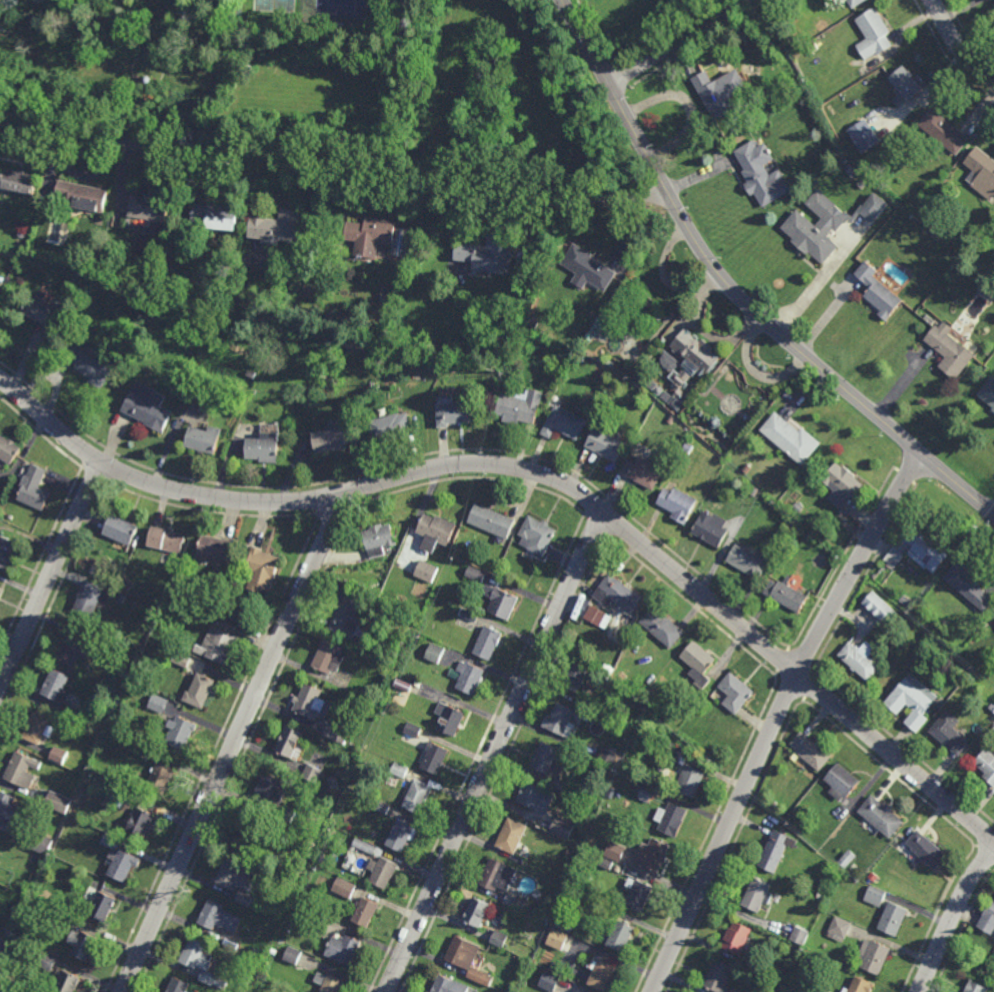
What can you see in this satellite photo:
building: (989, 0)
building: (858, 3)
building: (3, 23)
building: (874, 34)
road: (965, 34)
road: (672, 42)
road: (956, 44)
building: (812, 47)
road: (946, 56)
building: (908, 85)
building: (721, 93)
building: (945, 134)
building: (863, 135)
road: (332, 164)
building: (850, 170)
building: (982, 172)
building: (763, 174)
building: (18, 183)
building: (862, 184)
building: (80, 197)
building: (150, 209)
building: (217, 218)
building: (818, 227)
building: (278, 229)
building: (964, 235)
building: (916, 236)
building: (379, 237)
building: (96, 250)
building: (489, 256)
building: (588, 268)
building: (172, 277)
building: (1, 281)
building: (519, 287)
road: (811, 287)
building: (170, 288)
road: (734, 292)
building: (880, 292)
building: (249, 306)
building: (46, 310)
building: (928, 319)
building: (527, 322)
building: (124, 336)
building: (951, 351)
building: (112, 357)
building: (689, 357)
building: (433, 362)
building: (88, 367)
building: (453, 369)
building: (250, 374)
building: (989, 393)
building: (669, 394)
building: (599, 396)
building: (657, 406)
building: (521, 408)
building: (993, 411)
building: (150, 412)
building: (702, 413)
building: (457, 414)
building: (671, 418)
building: (715, 421)
building: (563, 423)
building: (392, 428)
road: (40, 433)
building: (726, 434)
building: (792, 439)
building: (205, 440)
building: (332, 442)
building: (607, 445)
building: (266, 446)
building: (688, 447)
building: (10, 451)
road: (406, 460)
building: (746, 468)
road: (541, 473)
building: (643, 473)
road: (905, 475)
road: (473, 479)
building: (844, 485)
building: (35, 489)
building: (678, 505)
building: (798, 506)
road: (992, 509)
road: (211, 513)
building: (494, 521)
road: (597, 527)
building: (713, 528)
building: (121, 529)
building: (438, 532)
building: (539, 535)
building: (169, 540)
building: (378, 540)
building: (219, 548)
building: (922, 551)
building: (8, 552)
road: (40, 559)
road: (842, 559)
building: (504, 563)
building: (750, 563)
building: (265, 568)
road: (49, 571)
building: (426, 572)
building: (475, 574)
road: (865, 577)
building: (967, 587)
building: (0, 589)
building: (618, 594)
building: (791, 598)
building: (120, 599)
building: (394, 599)
building: (215, 600)
building: (501, 600)
building: (90, 601)
road: (54, 602)
road: (692, 606)
building: (228, 607)
building: (879, 607)
building: (349, 615)
building: (469, 615)
building: (597, 616)
building: (662, 628)
building: (399, 640)
building: (384, 643)
building: (489, 643)
building: (73, 646)
building: (219, 647)
building: (187, 648)
road: (787, 648)
building: (433, 653)
building: (329, 657)
building: (700, 659)
building: (181, 660)
road: (799, 660)
building: (859, 661)
building: (914, 662)
road: (783, 664)
road: (814, 671)
building: (471, 677)
road: (777, 679)
building: (576, 680)
road: (806, 684)
building: (54, 686)
road: (791, 687)
building: (202, 691)
building: (737, 693)
road: (802, 700)
building: (909, 701)
building: (157, 704)
building: (312, 704)
building: (992, 706)
building: (73, 712)
road: (777, 717)
building: (452, 719)
building: (562, 722)
building: (38, 728)
building: (412, 729)
building: (181, 732)
building: (335, 732)
building: (947, 734)
building: (293, 742)
road: (233, 743)
road: (905, 746)
building: (661, 747)
road: (243, 750)
building: (682, 750)
road: (495, 751)
building: (141, 752)
building: (813, 752)
road: (211, 754)
road: (476, 754)
building: (58, 756)
building: (435, 757)
building: (546, 757)
building: (608, 758)
road: (506, 765)
building: (986, 766)
building: (23, 770)
building: (400, 770)
road: (888, 772)
building: (312, 774)
building: (670, 777)
building: (163, 778)
building: (691, 780)
building: (843, 782)
building: (559, 783)
building: (272, 790)
building: (647, 791)
building: (117, 797)
building: (419, 797)
building: (535, 797)
building: (56, 800)
building: (381, 807)
building: (11, 809)
building: (287, 814)
building: (880, 816)
building: (672, 820)
building: (143, 823)
building: (562, 826)
building: (248, 834)
building: (403, 836)
building: (512, 836)
road: (705, 836)
road: (986, 837)
building: (0, 838)
building: (110, 840)
building: (40, 841)
building: (364, 845)
road: (732, 845)
road: (975, 846)
building: (778, 849)
building: (614, 850)
building: (924, 850)
building: (570, 851)
road: (986, 852)
building: (654, 855)
building: (847, 859)
building: (604, 862)
building: (122, 866)
building: (616, 867)
building: (853, 868)
building: (383, 872)
building: (307, 875)
building: (498, 875)
building: (236, 877)
building: (32, 878)
building: (343, 887)
building: (27, 889)
building: (537, 892)
building: (758, 893)
building: (639, 895)
building: (875, 895)
building: (244, 898)
building: (511, 900)
building: (104, 906)
building: (366, 912)
building: (535, 912)
building: (479, 913)
building: (58, 915)
road: (934, 917)
building: (220, 918)
road: (952, 918)
building: (312, 920)
building: (894, 920)
building: (987, 920)
building: (565, 921)
building: (839, 928)
road: (961, 930)
building: (7, 931)
building: (622, 934)
building: (798, 934)
building: (499, 937)
building: (557, 937)
building: (738, 939)
building: (84, 945)
building: (3, 947)
building: (346, 950)
building: (254, 952)
building: (292, 953)
building: (464, 953)
building: (195, 955)
building: (875, 958)
building: (45, 959)
building: (604, 972)
building: (480, 977)
building: (720, 978)
building: (549, 981)
building: (70, 983)
building: (331, 983)
building: (179, 986)
building: (450, 986)
building: (861, 986)
building: (973, 987)
building: (739, 990)
building: (26, 991)
building: (284, 991)
building: (822, 991)
building: (825, 991)

